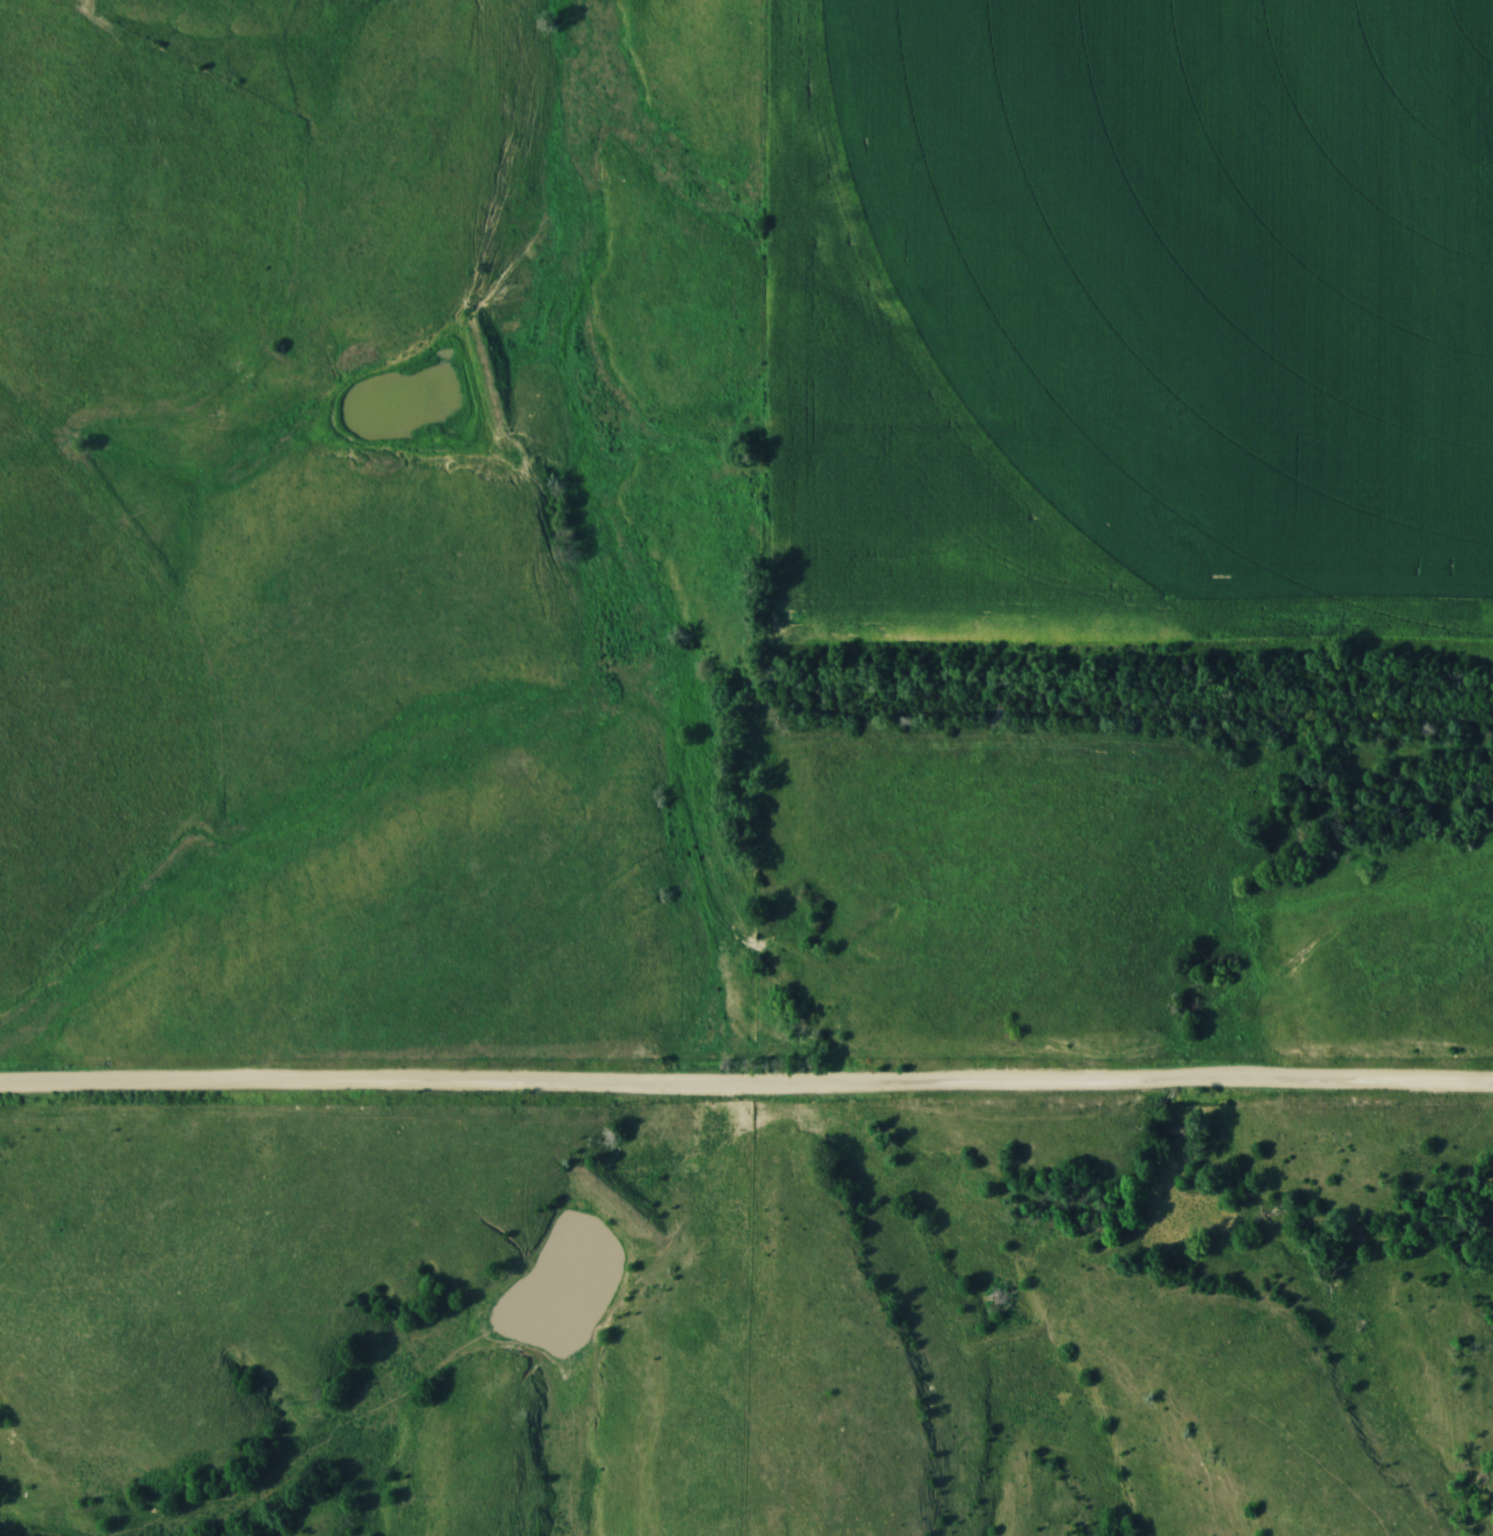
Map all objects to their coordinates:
road: (746, 1091)

